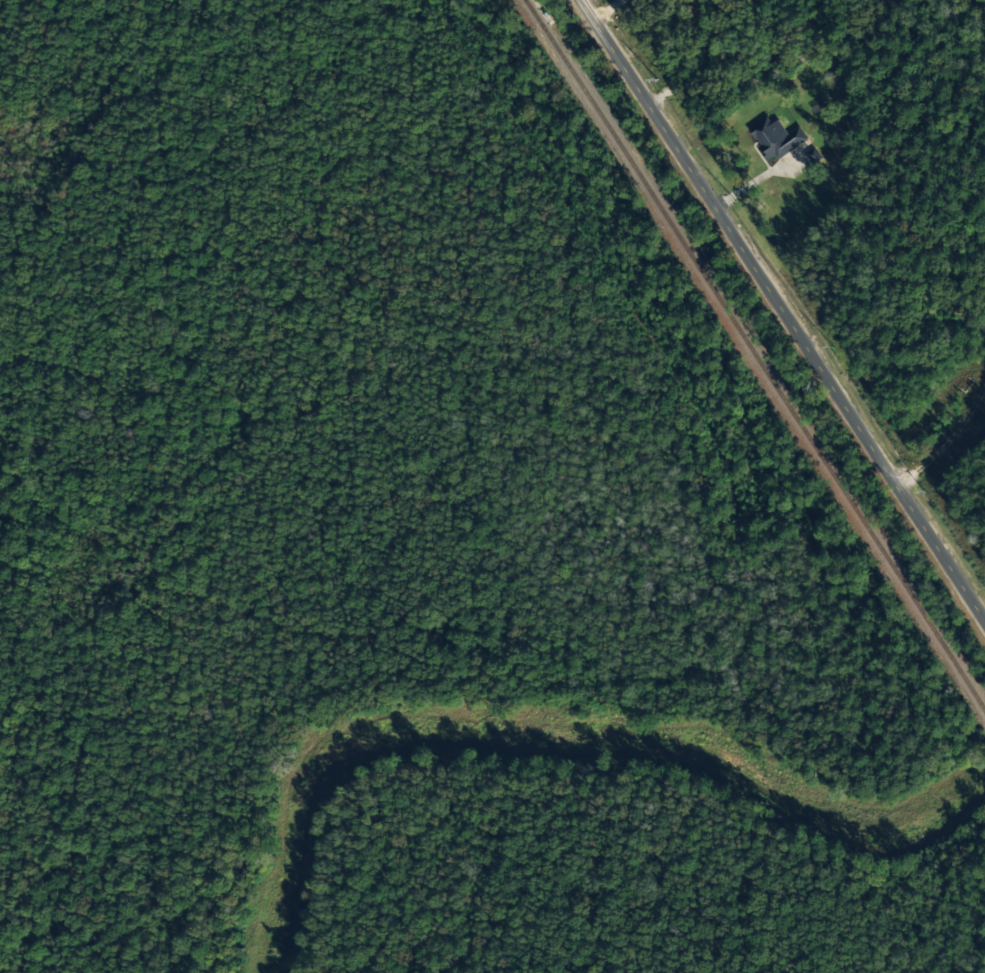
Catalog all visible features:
building: (776, 138)
road: (784, 309)
railway: (754, 355)

